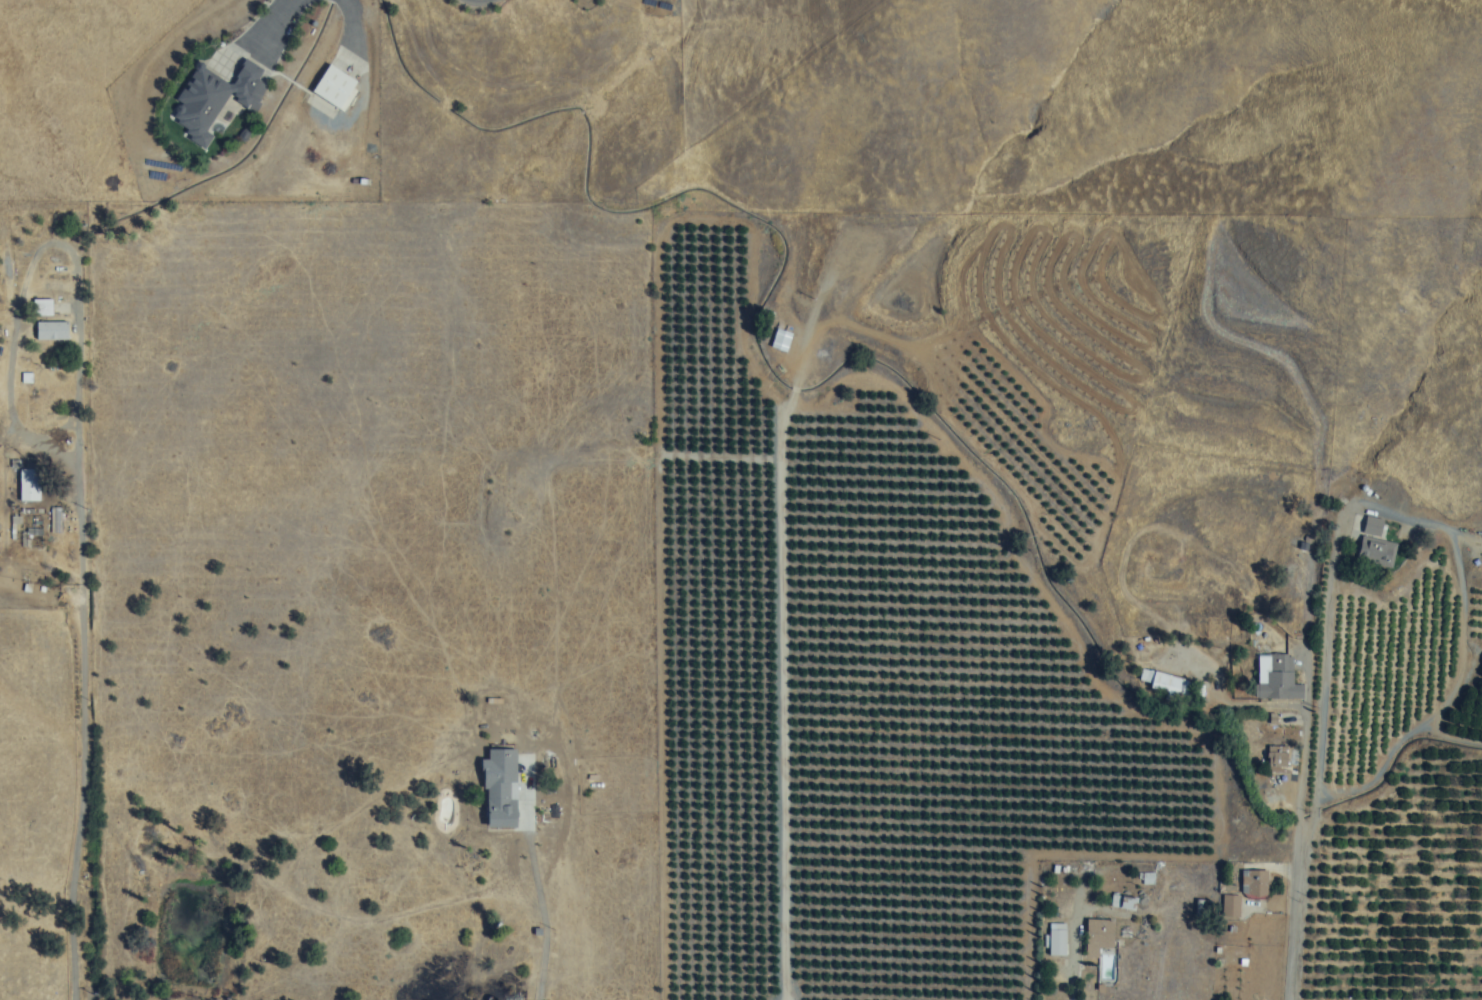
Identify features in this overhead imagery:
building: (334, 87)
building: (244, 90)
building: (197, 125)
road: (32, 251)
building: (43, 308)
building: (51, 331)
building: (781, 341)
building: (29, 485)
building: (1376, 543)
crop: (268, 607)
road: (833, 636)
building: (1277, 677)
building: (1164, 683)
road: (82, 730)
building: (1277, 757)
crop: (1404, 783)
road: (1302, 784)
building: (500, 788)
building: (1256, 884)
road: (541, 895)
building: (1124, 902)
building: (1231, 906)
building: (1057, 936)
building: (1103, 951)

